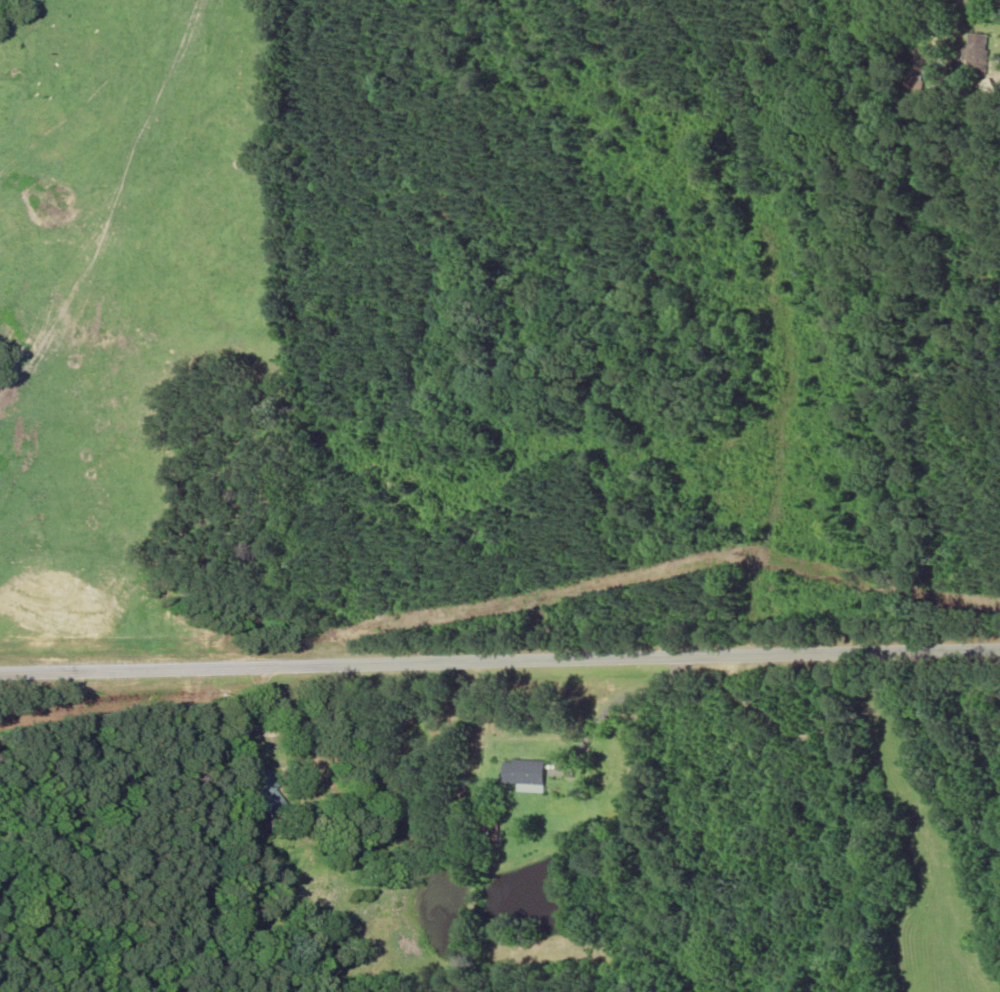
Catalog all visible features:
road: (737, 29)
building: (974, 52)
road: (725, 196)
road: (500, 659)
building: (524, 774)
building: (256, 790)
building: (488, 816)

